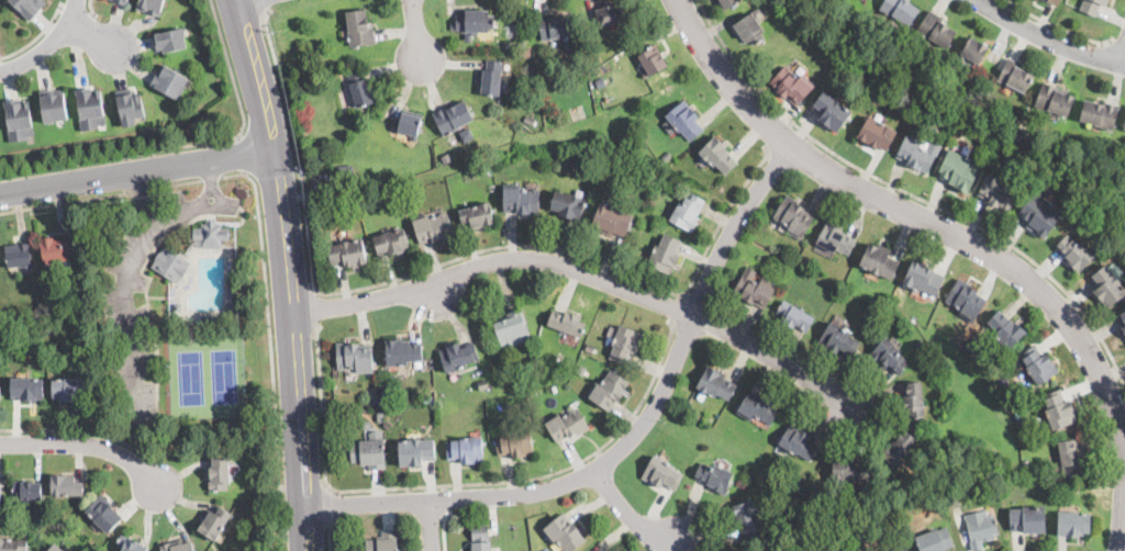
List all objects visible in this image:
building: (123, 0)
road: (242, 1)
building: (1054, 2)
building: (727, 3)
building: (29, 5)
building: (151, 5)
building: (1092, 7)
road: (76, 8)
road: (92, 8)
road: (265, 8)
building: (900, 10)
building: (610, 14)
building: (475, 22)
building: (554, 25)
road: (416, 27)
road: (1060, 27)
building: (358, 29)
building: (749, 29)
building: (511, 30)
building: (936, 30)
road: (92, 35)
road: (35, 37)
building: (171, 38)
road: (1048, 40)
road: (1117, 43)
road: (47, 44)
building: (568, 45)
building: (973, 50)
building: (314, 59)
building: (591, 59)
road: (1123, 59)
building: (651, 60)
building: (1015, 76)
building: (491, 78)
building: (170, 80)
building: (792, 85)
building: (360, 88)
building: (1054, 99)
building: (52, 103)
building: (131, 106)
building: (89, 108)
building: (831, 110)
building: (554, 113)
building: (1100, 114)
building: (452, 117)
building: (18, 119)
building: (686, 119)
building: (528, 120)
building: (410, 125)
building: (1124, 125)
building: (1124, 127)
building: (877, 133)
building: (467, 134)
road: (781, 137)
road: (189, 145)
building: (917, 154)
road: (243, 155)
building: (717, 155)
building: (320, 156)
building: (446, 156)
building: (666, 156)
building: (959, 170)
road: (135, 172)
building: (345, 172)
road: (212, 178)
road: (185, 183)
road: (146, 190)
building: (998, 192)
road: (911, 194)
road: (148, 198)
road: (82, 199)
building: (521, 201)
building: (568, 205)
building: (687, 212)
building: (1040, 212)
building: (477, 216)
building: (793, 216)
building: (611, 220)
building: (433, 227)
building: (211, 234)
road: (962, 237)
building: (835, 238)
building: (391, 241)
building: (54, 249)
building: (347, 252)
building: (1074, 252)
building: (16, 255)
building: (665, 255)
road: (446, 261)
building: (878, 261)
building: (169, 263)
road: (587, 271)
road: (289, 273)
building: (923, 279)
road: (123, 282)
building: (1106, 286)
building: (754, 290)
road: (699, 300)
building: (966, 300)
road: (675, 306)
building: (177, 307)
building: (230, 307)
road: (318, 308)
building: (224, 315)
building: (794, 315)
building: (185, 318)
building: (1122, 318)
building: (210, 319)
building: (567, 323)
building: (513, 328)
building: (1003, 331)
building: (1124, 336)
building: (838, 339)
building: (623, 342)
road: (773, 344)
building: (921, 344)
road: (271, 347)
building: (590, 347)
building: (403, 353)
building: (457, 356)
building: (889, 356)
building: (354, 357)
building: (1038, 363)
building: (483, 383)
building: (715, 383)
building: (382, 385)
building: (0, 389)
building: (26, 389)
building: (68, 389)
building: (608, 389)
building: (383, 393)
building: (374, 398)
building: (383, 400)
building: (914, 400)
building: (757, 408)
building: (1058, 409)
building: (379, 416)
building: (566, 425)
building: (367, 426)
road: (73, 430)
building: (798, 441)
road: (630, 442)
building: (515, 443)
road: (85, 445)
building: (465, 449)
building: (898, 449)
building: (415, 451)
building: (367, 452)
building: (1070, 458)
building: (849, 470)
building: (219, 474)
building: (661, 474)
building: (715, 476)
road: (461, 483)
building: (65, 485)
building: (26, 490)
building: (0, 492)
road: (445, 498)
road: (330, 504)
building: (103, 514)
road: (632, 516)
building: (748, 518)
building: (1026, 520)
building: (213, 522)
building: (1073, 524)
road: (435, 526)
building: (980, 528)
road: (443, 529)
building: (564, 532)
road: (331, 538)
building: (480, 538)
building: (934, 540)
building: (382, 541)
building: (12, 544)
building: (131, 544)
building: (178, 547)
building: (55, 548)
building: (898, 549)
building: (525, 550)
building: (726, 550)

